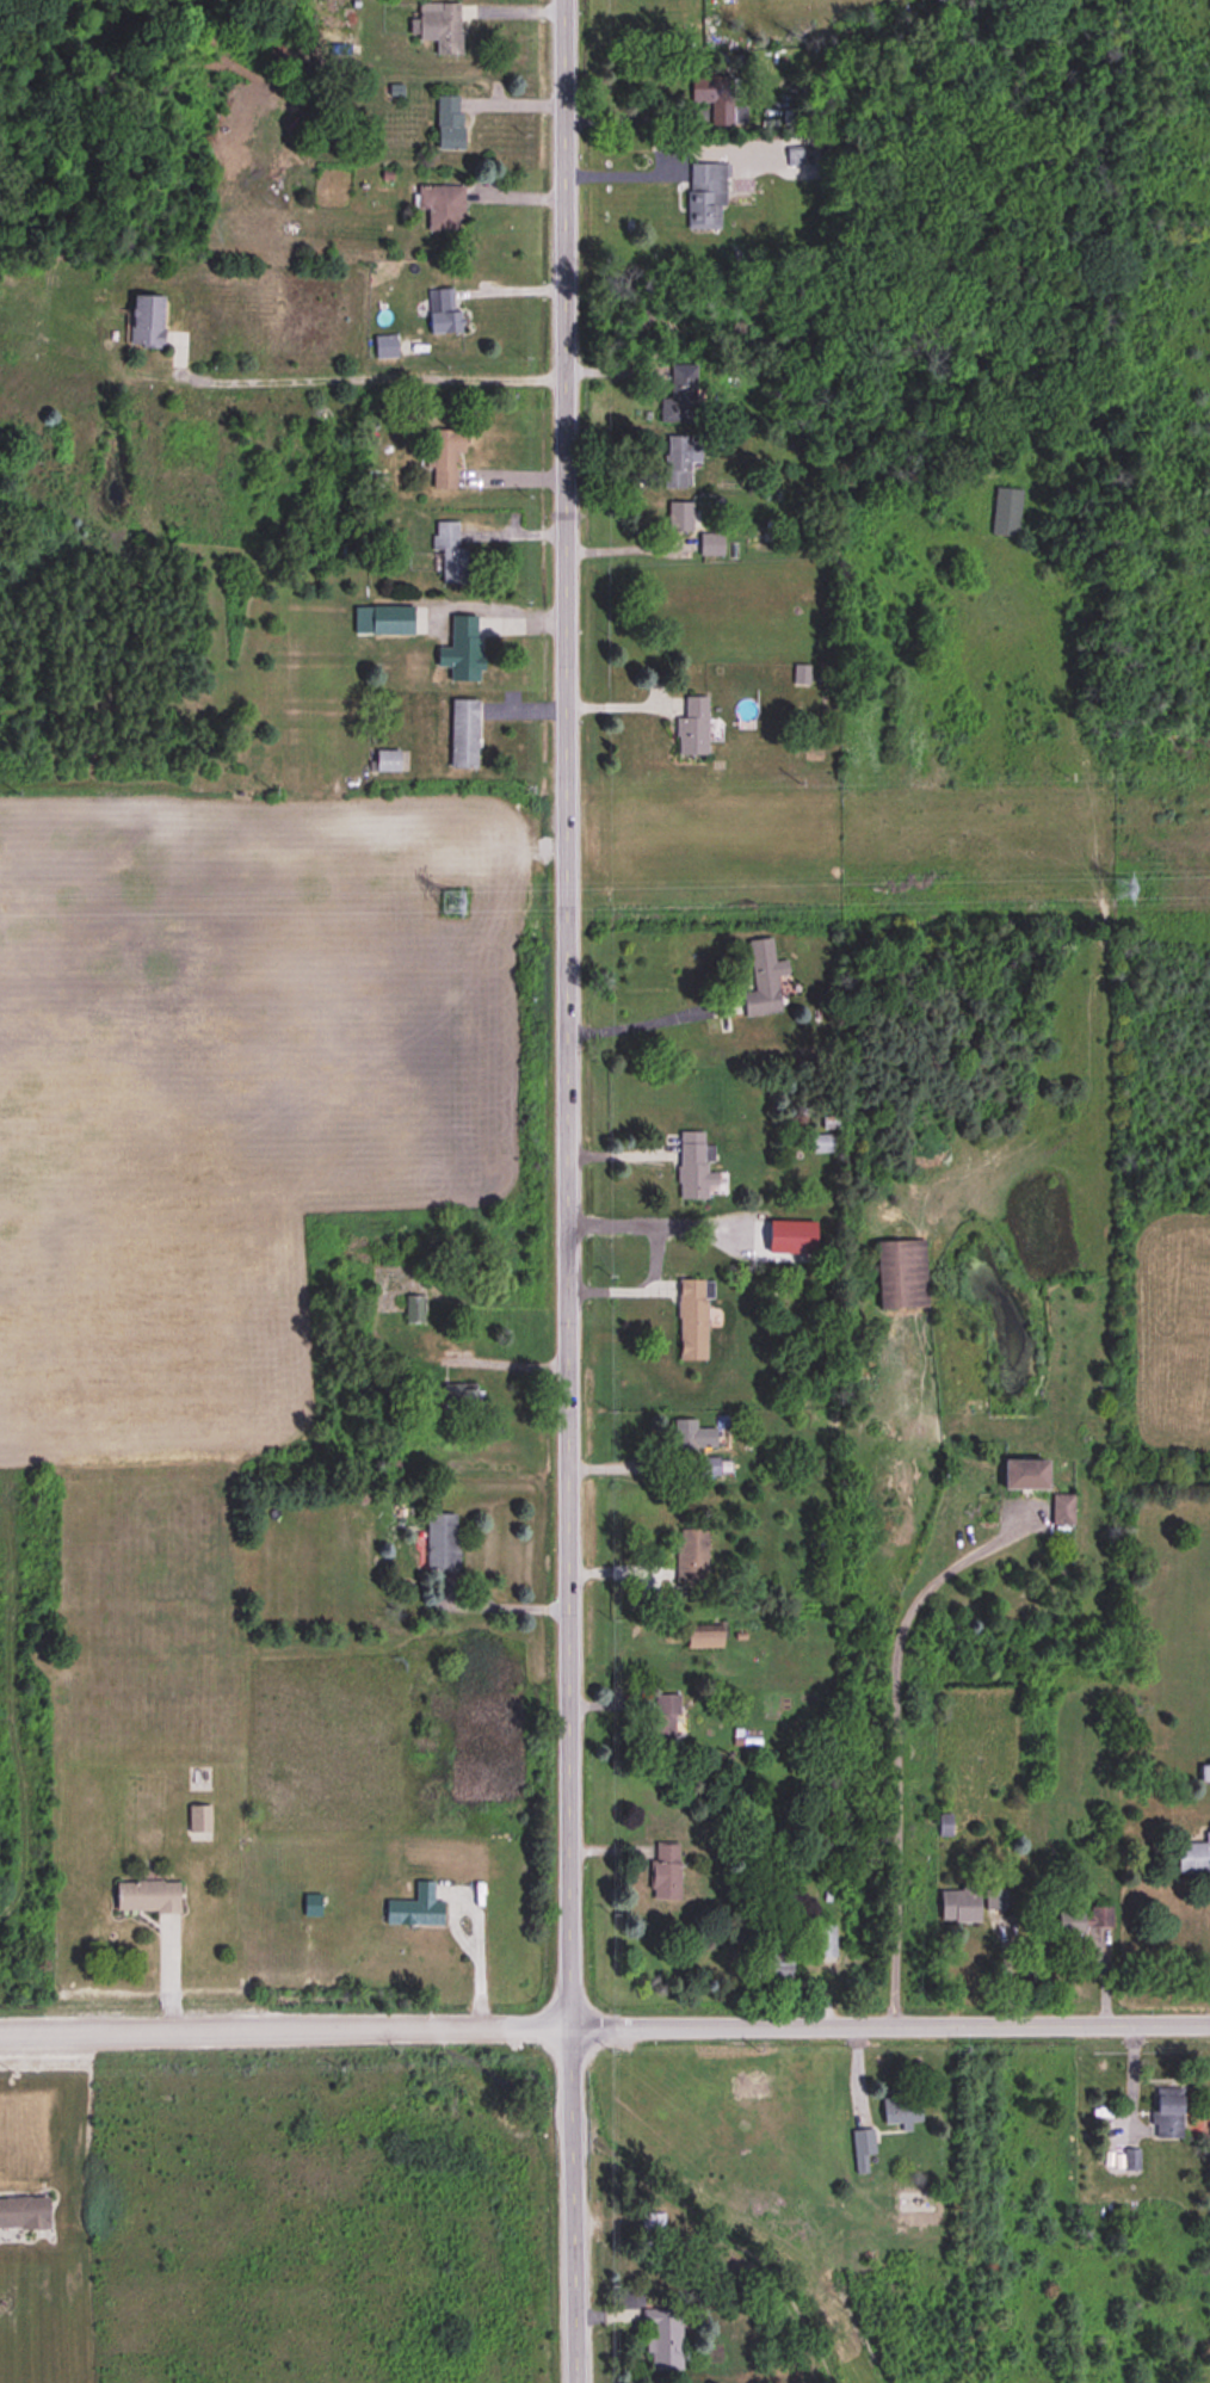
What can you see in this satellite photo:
building: (440, 26)
building: (715, 97)
road: (629, 116)
building: (449, 122)
road: (626, 173)
building: (705, 197)
building: (442, 208)
building: (443, 311)
building: (146, 322)
building: (385, 346)
road: (363, 379)
building: (680, 399)
building: (445, 457)
building: (680, 459)
building: (1006, 512)
building: (679, 517)
building: (711, 544)
road: (626, 549)
building: (451, 551)
building: (383, 621)
building: (462, 649)
building: (801, 674)
building: (692, 728)
building: (464, 734)
building: (387, 760)
power tower: (1124, 887)
building: (1124, 889)
power tower: (452, 901)
building: (764, 980)
road: (636, 1023)
building: (823, 1144)
building: (693, 1167)
road: (567, 1191)
road: (648, 1221)
building: (901, 1274)
road: (638, 1288)
building: (414, 1310)
building: (692, 1320)
building: (462, 1399)
building: (693, 1438)
road: (630, 1465)
building: (709, 1467)
building: (1023, 1475)
building: (1061, 1510)
building: (442, 1543)
building: (691, 1557)
road: (500, 1606)
building: (704, 1640)
building: (665, 1717)
road: (896, 1737)
building: (199, 1819)
building: (946, 1825)
building: (1193, 1858)
building: (665, 1872)
building: (146, 1896)
building: (996, 1900)
building: (313, 1906)
building: (958, 1906)
building: (415, 1908)
building: (1099, 1916)
building: (1069, 1928)
road: (476, 1934)
building: (825, 1944)
building: (774, 1961)
road: (889, 2027)
road: (284, 2031)
building: (901, 2111)
building: (1168, 2113)
building: (863, 2150)
building: (1131, 2160)
building: (23, 2212)
building: (654, 2230)
building: (656, 2339)

